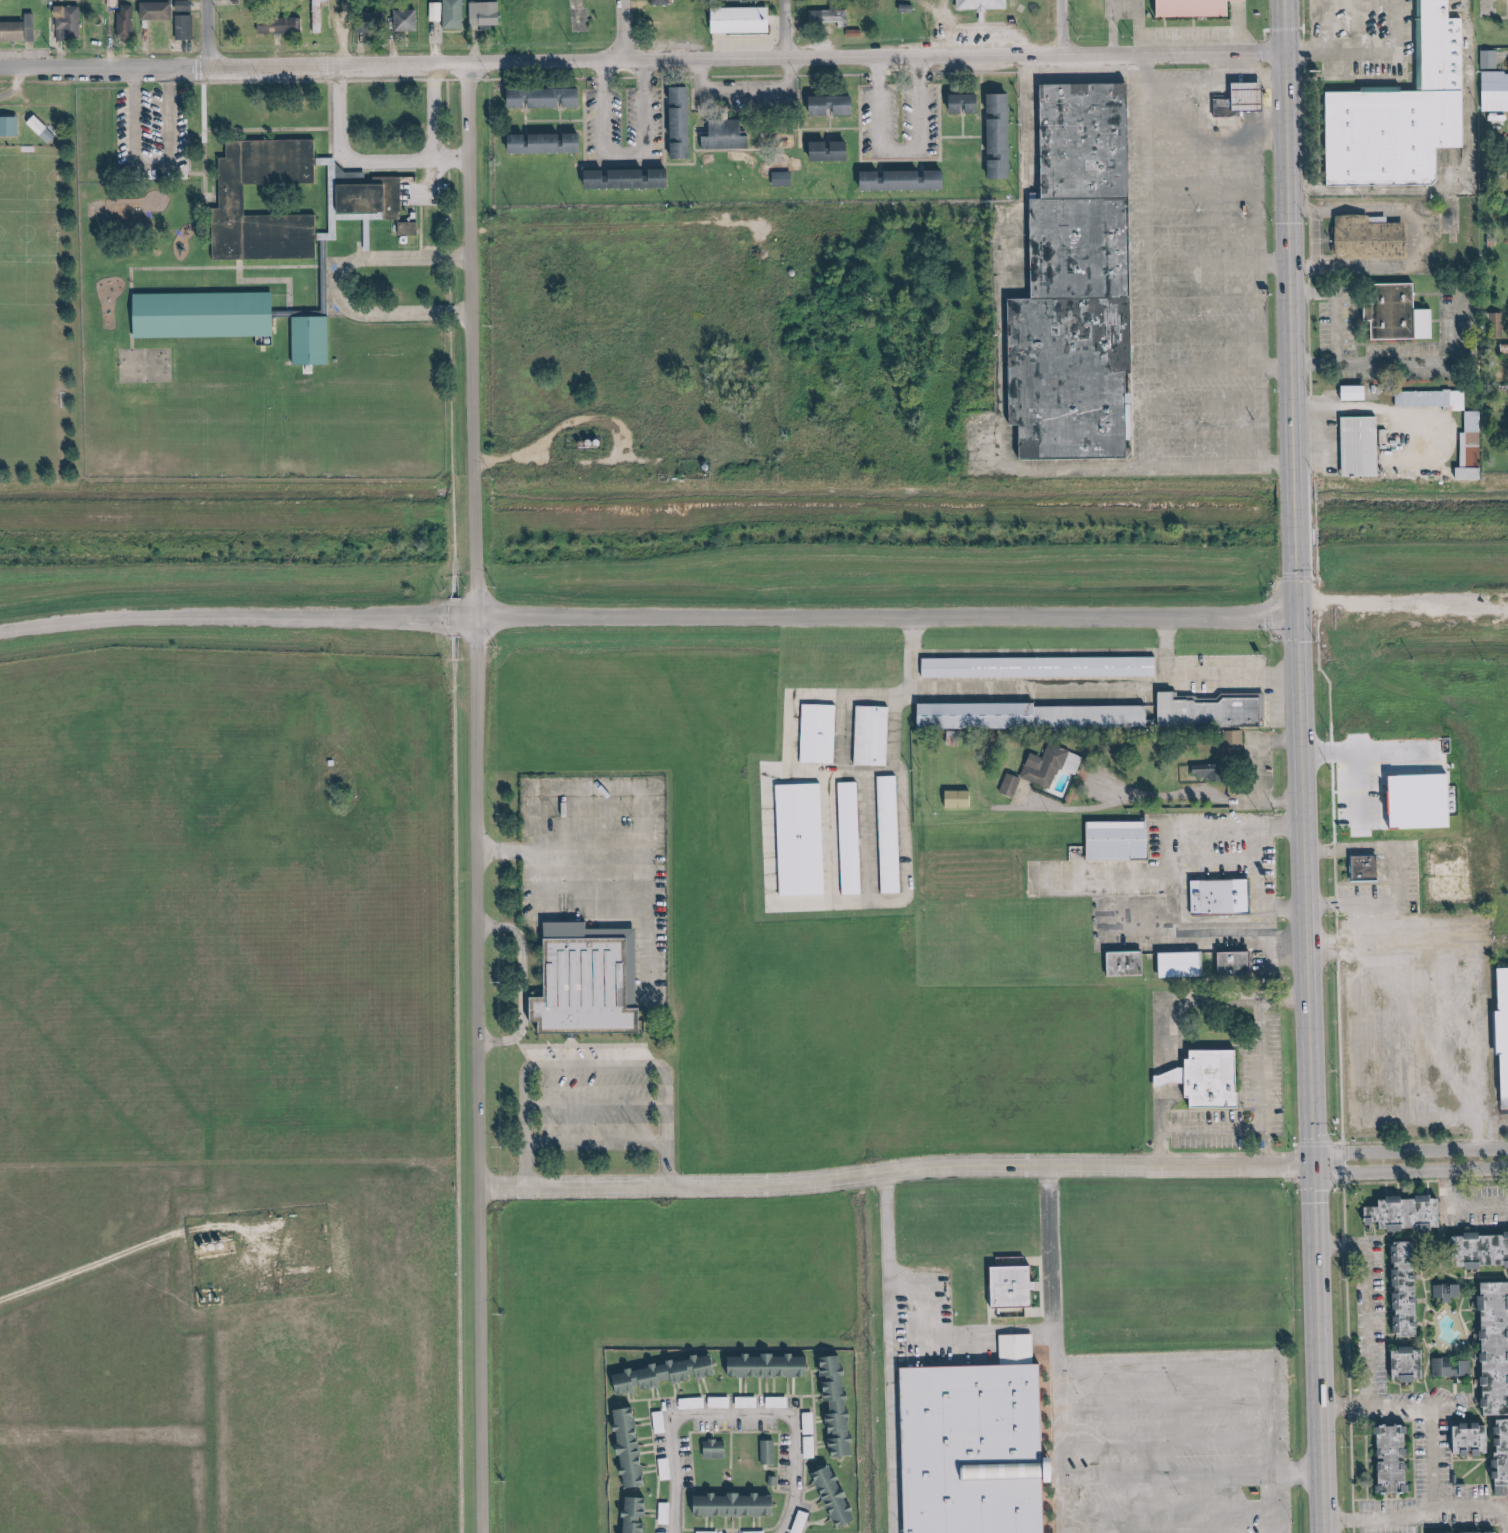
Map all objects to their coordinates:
building: (754, 0)
building: (662, 2)
building: (975, 4)
building: (187, 5)
building: (1185, 7)
building: (450, 13)
building: (487, 14)
building: (321, 16)
building: (831, 17)
building: (171, 18)
building: (378, 18)
building: (128, 20)
building: (408, 20)
building: (745, 20)
building: (70, 22)
building: (281, 25)
road: (963, 25)
road: (1105, 26)
road: (1130, 26)
park: (962, 27)
road: (1059, 27)
road: (1230, 27)
road: (929, 28)
road: (784, 29)
building: (20, 30)
road: (616, 31)
road: (206, 32)
road: (1158, 33)
road: (1188, 33)
road: (1320, 46)
road: (1302, 53)
road: (873, 56)
road: (1373, 57)
building: (1492, 59)
road: (230, 64)
road: (539, 82)
building: (1496, 91)
gas station: (1242, 94)
building: (548, 98)
building: (1243, 101)
building: (969, 104)
building: (1219, 105)
building: (837, 106)
road: (739, 110)
road: (791, 111)
road: (974, 116)
building: (1392, 117)
road: (551, 120)
road: (687, 120)
road: (574, 121)
road: (823, 122)
building: (685, 123)
road: (955, 125)
building: (11, 126)
building: (44, 129)
road: (262, 130)
road: (807, 130)
road: (819, 135)
building: (729, 136)
building: (1003, 136)
road: (196, 138)
road: (943, 138)
building: (1079, 138)
building: (548, 143)
road: (727, 150)
road: (892, 150)
building: (833, 151)
road: (617, 154)
road: (687, 162)
building: (1504, 168)
building: (630, 179)
building: (786, 179)
building: (907, 181)
building: (235, 196)
building: (376, 198)
road: (612, 226)
building: (412, 229)
building: (1361, 238)
building: (1073, 246)
building: (1386, 310)
building: (208, 315)
building: (315, 341)
building: (1506, 349)
road: (1373, 366)
road: (1311, 368)
building: (1064, 376)
building: (1358, 393)
building: (1435, 399)
building: (1364, 446)
building: (1473, 448)
road: (1309, 493)
road: (871, 616)
road: (220, 617)
traffic signals: (1300, 617)
building: (1043, 667)
building: (1215, 711)
building: (1034, 716)
building: (821, 733)
building: (875, 735)
building: (1237, 739)
building: (1053, 765)
road: (1303, 766)
building: (1013, 785)
road: (470, 797)
road: (625, 797)
building: (962, 799)
building: (1425, 801)
building: (892, 834)
building: (853, 838)
building: (804, 839)
building: (1122, 840)
road: (1348, 848)
road: (556, 852)
building: (1358, 868)
building: (1214, 895)
road: (586, 900)
road: (1376, 902)
road: (1334, 933)
building: (1130, 963)
building: (1240, 963)
building: (1185, 964)
road: (1471, 970)
building: (581, 980)
road: (516, 983)
building: (1501, 1034)
road: (587, 1067)
building: (1206, 1079)
road: (588, 1104)
road: (660, 1121)
road: (517, 1123)
road: (589, 1141)
road: (1410, 1161)
traffic signals: (1313, 1163)
road: (893, 1170)
road: (1382, 1182)
road: (1433, 1205)
road: (1450, 1208)
building: (1398, 1211)
road: (1361, 1237)
road: (1336, 1245)
building: (1476, 1248)
road: (1470, 1278)
building: (1018, 1286)
building: (1398, 1290)
building: (1449, 1291)
building: (1037, 1311)
road: (1507, 1313)
road: (1363, 1325)
road: (1414, 1325)
road: (937, 1333)
road: (1399, 1344)
building: (1490, 1346)
road: (1046, 1349)
road: (882, 1352)
road: (1341, 1358)
building: (772, 1365)
building: (1400, 1366)
building: (1455, 1367)
road: (1210, 1369)
building: (667, 1374)
building: (722, 1402)
building: (749, 1402)
building: (779, 1402)
building: (695, 1403)
building: (841, 1404)
road: (1157, 1406)
road: (1379, 1406)
road: (734, 1413)
building: (662, 1422)
building: (811, 1423)
building: (1462, 1440)
road: (1158, 1444)
building: (635, 1446)
building: (812, 1447)
building: (969, 1448)
building: (718, 1449)
building: (771, 1452)
building: (1497, 1454)
road: (1426, 1456)
building: (1385, 1460)
road: (1183, 1477)
road: (1473, 1486)
road: (1407, 1496)
building: (738, 1505)
road: (1507, 1510)
building: (640, 1514)
road: (1179, 1514)
road: (1418, 1515)
building: (803, 1522)
road: (1170, 1524)
building: (1459, 1531)
building: (666, 1532)
building: (709, 1532)
building: (757, 1532)

